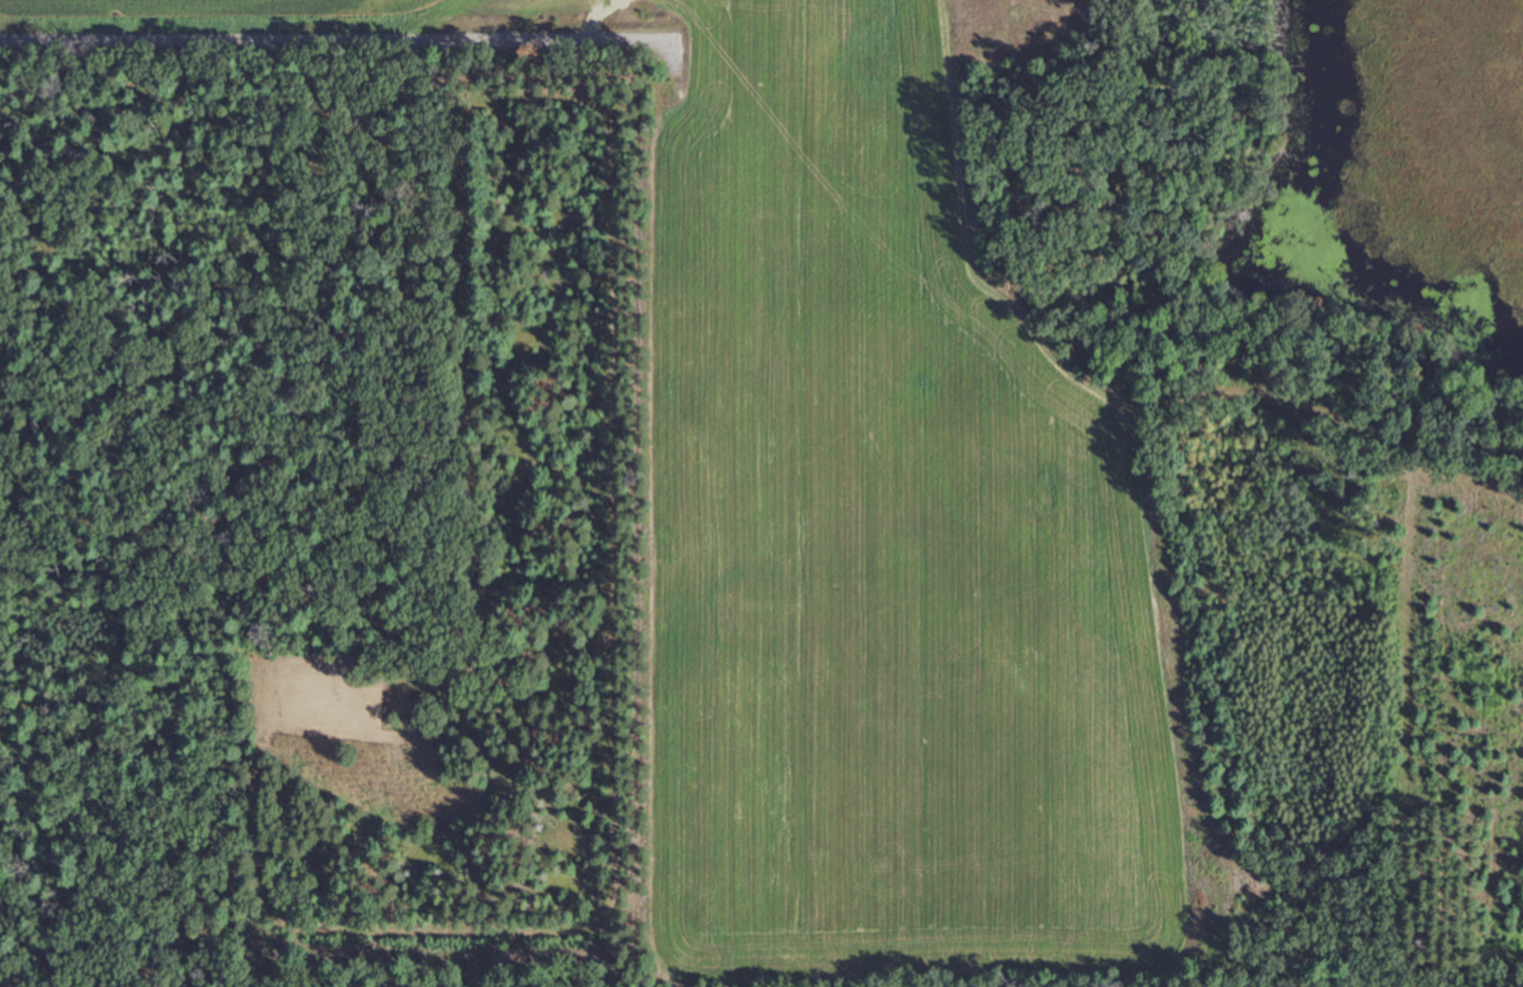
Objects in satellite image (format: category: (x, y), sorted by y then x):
road: (293, 43)

